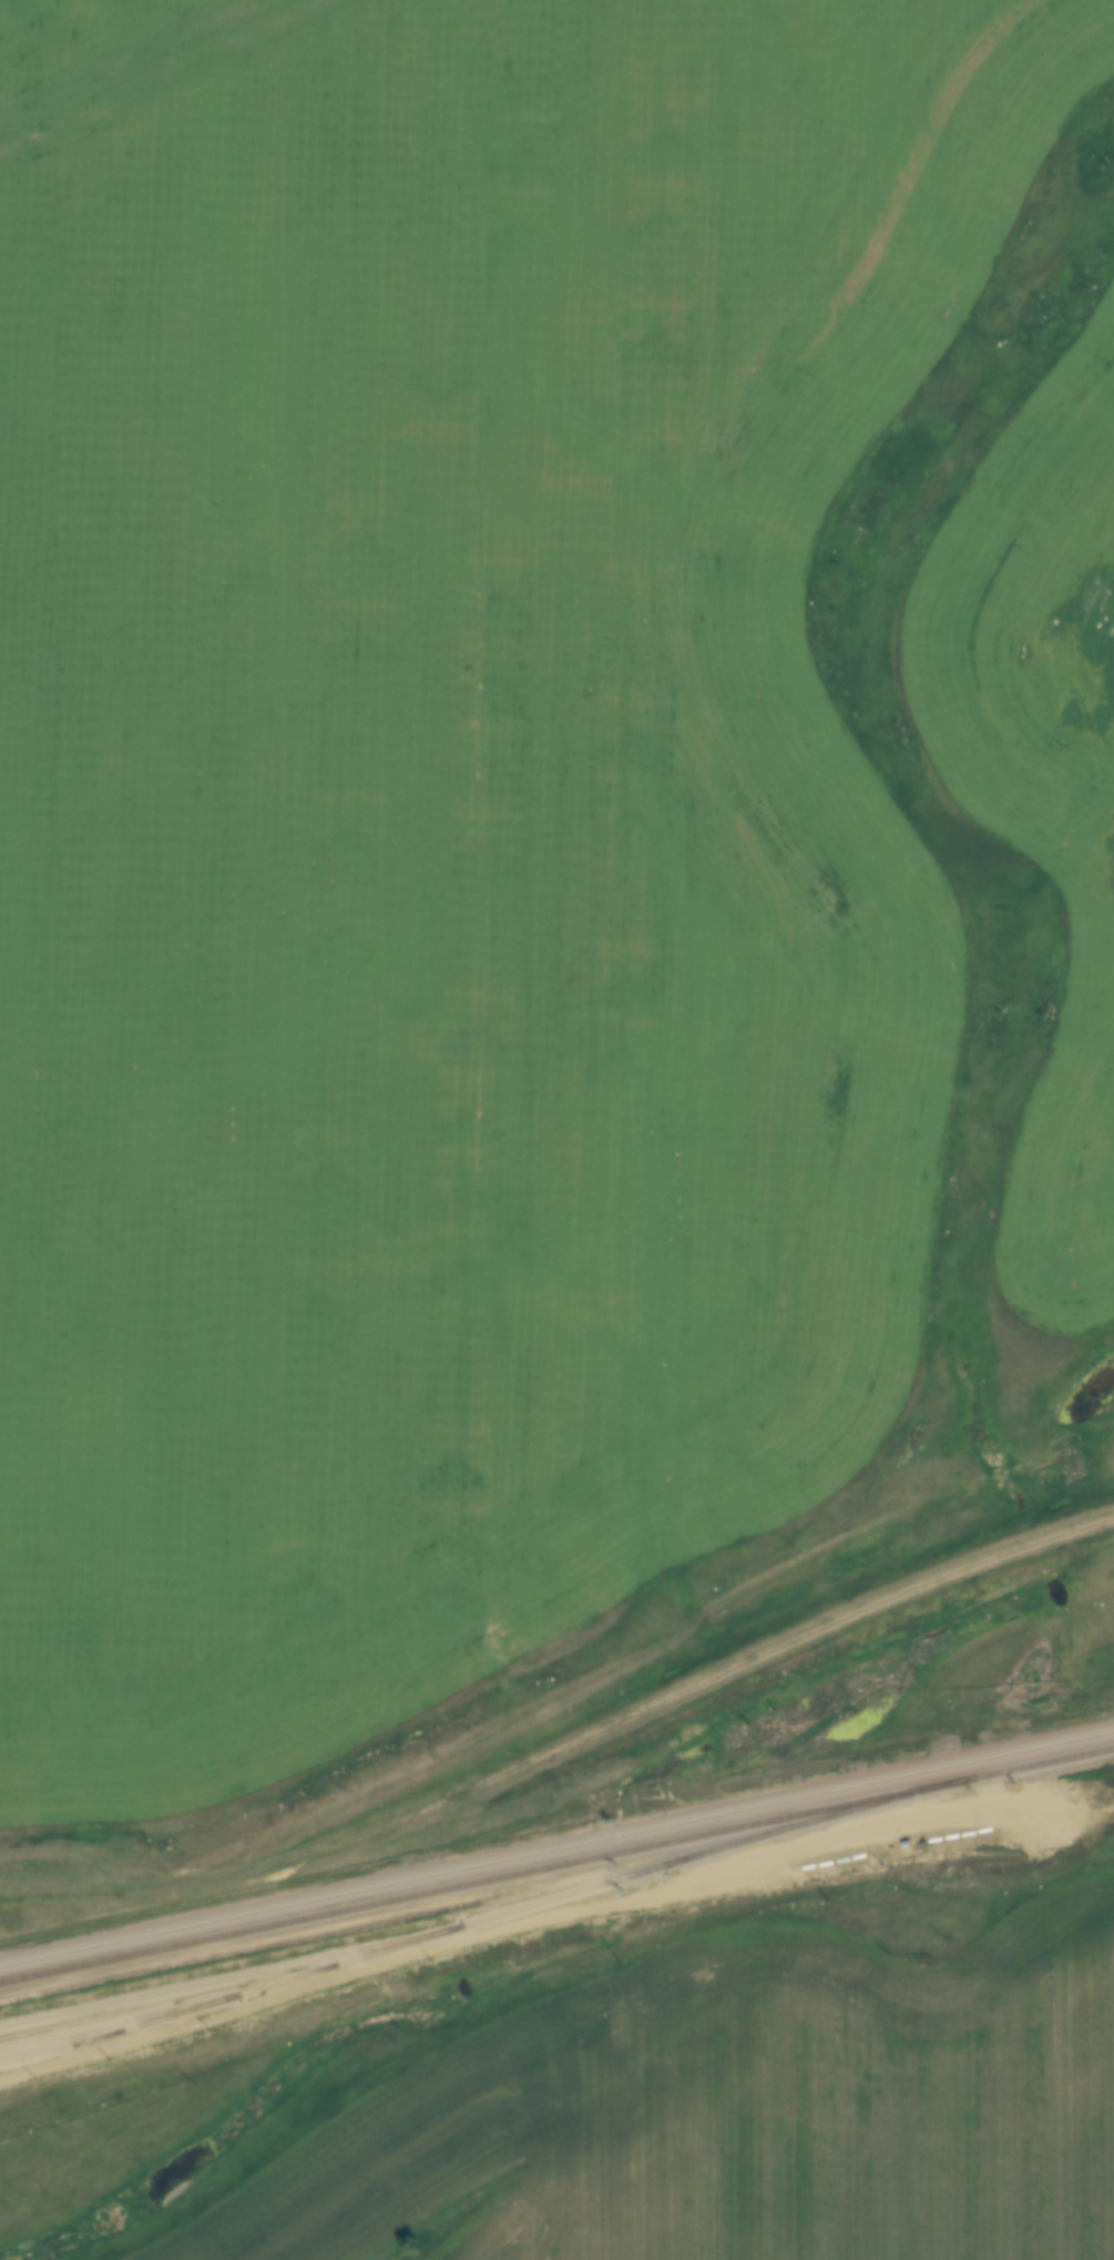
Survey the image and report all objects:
railway: (556, 1844)
railway: (556, 1862)
railway: (484, 1914)
railway: (221, 1995)
railway: (111, 2019)

